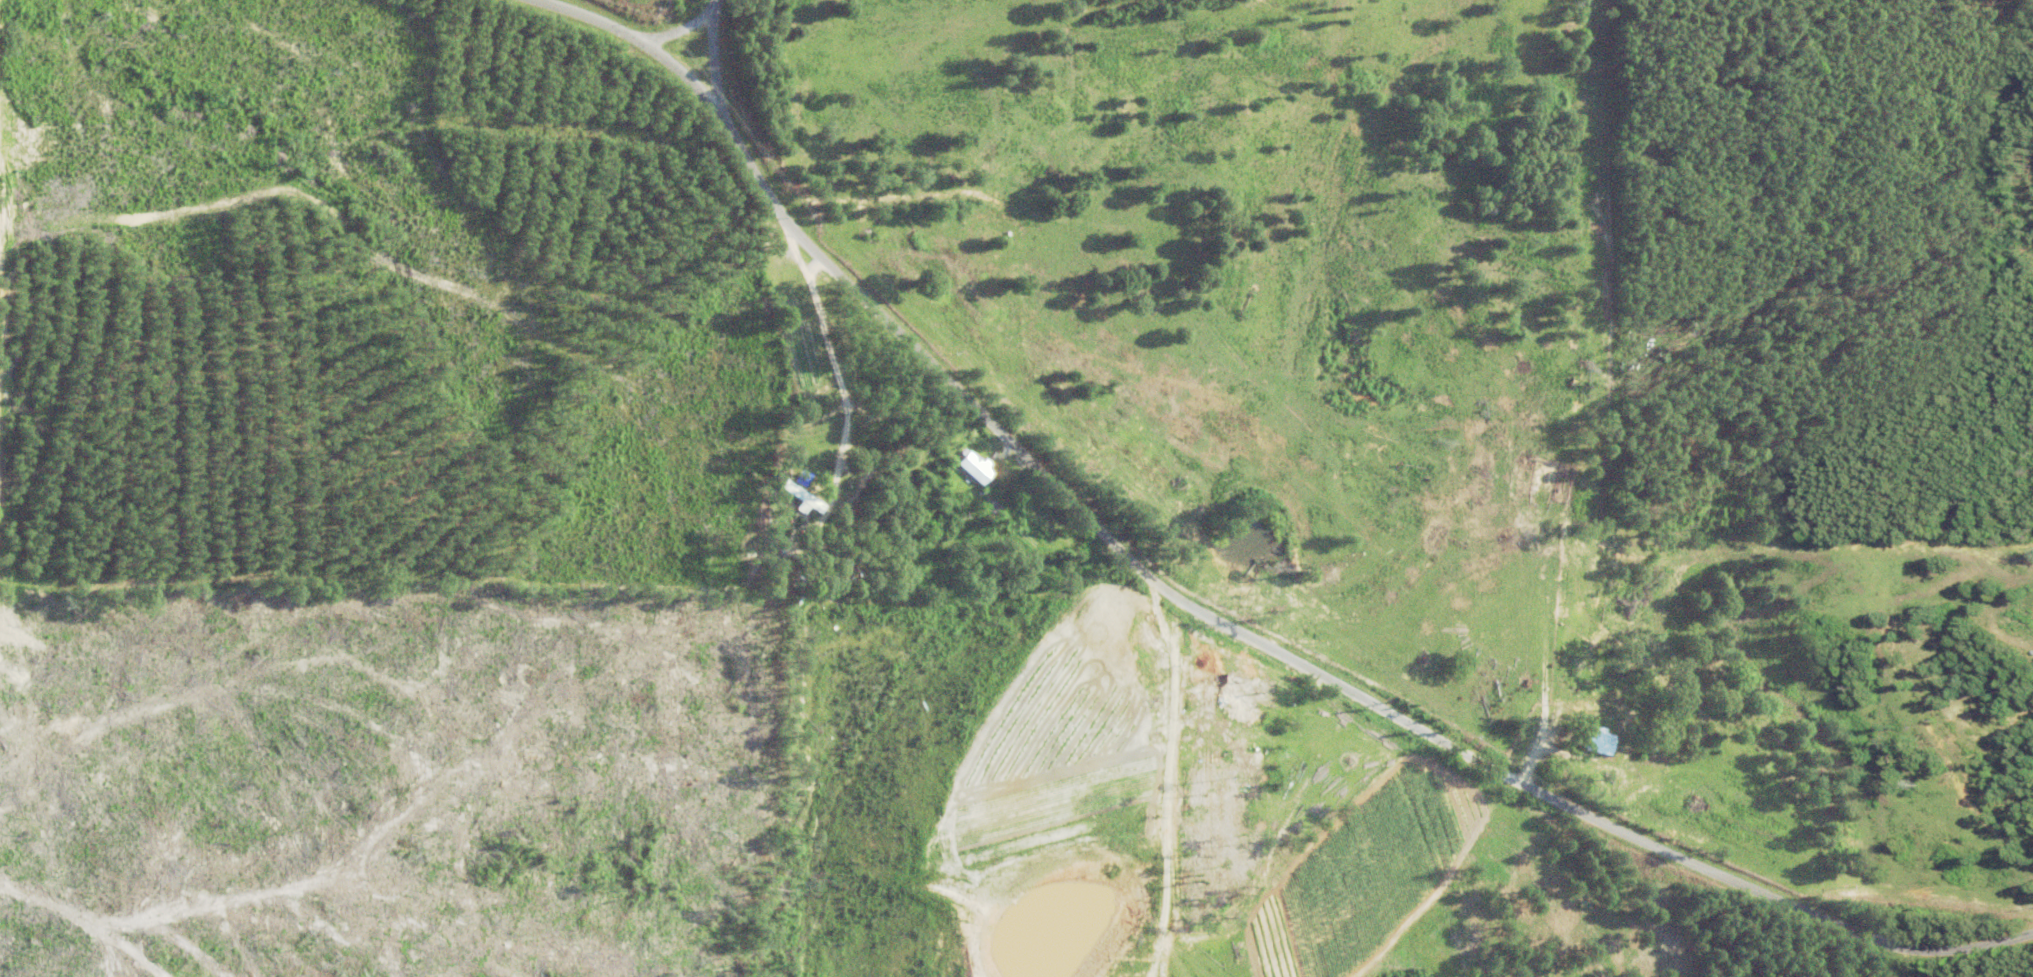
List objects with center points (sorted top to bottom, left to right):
road: (683, 26)
road: (714, 56)
building: (958, 464)
building: (791, 498)
road: (1204, 599)
building: (1236, 709)
building: (1652, 732)
building: (1588, 740)

